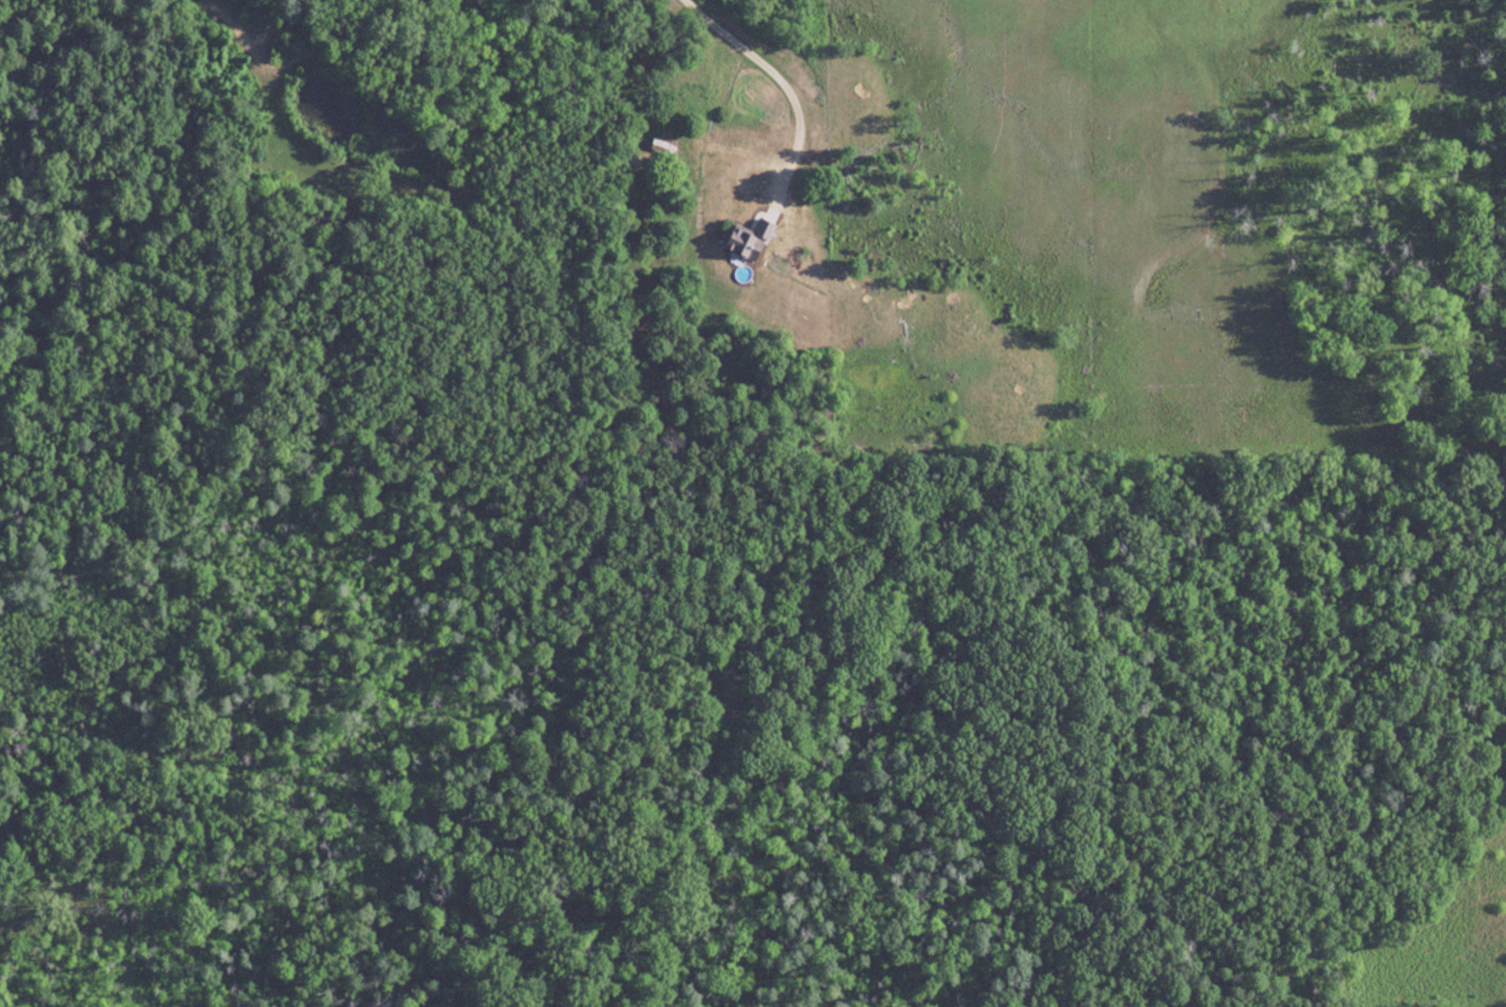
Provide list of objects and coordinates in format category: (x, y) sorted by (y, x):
road: (785, 72)
building: (750, 239)

